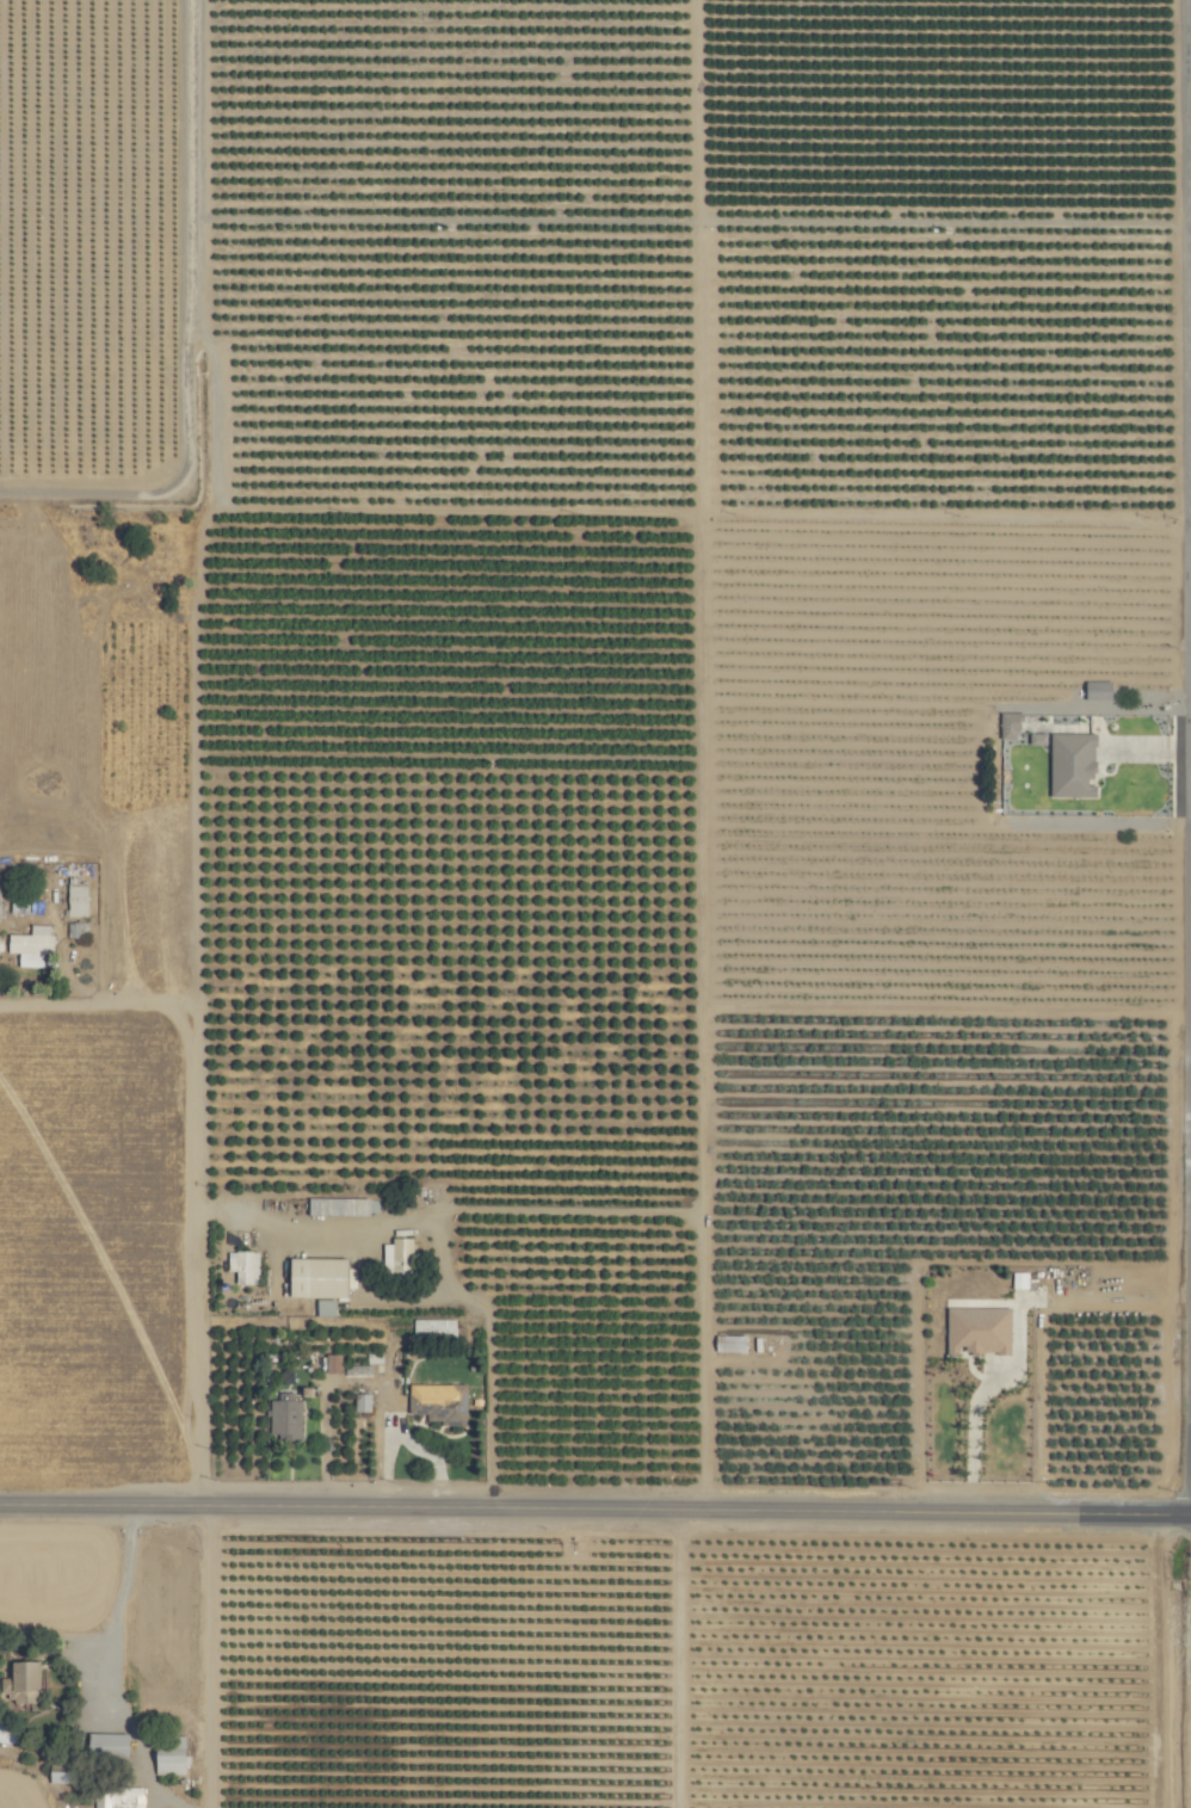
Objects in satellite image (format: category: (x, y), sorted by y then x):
building: (1094, 690)
building: (1007, 723)
road: (1187, 745)
building: (1069, 764)
building: (74, 897)
crop: (595, 903)
building: (76, 928)
building: (27, 945)
road: (195, 1054)
building: (335, 1207)
road: (697, 1223)
building: (395, 1258)
road: (442, 1259)
building: (241, 1266)
building: (314, 1278)
building: (323, 1308)
building: (432, 1328)
building: (975, 1331)
building: (331, 1364)
building: (359, 1402)
building: (438, 1405)
building: (283, 1419)
road: (594, 1510)
road: (204, 1656)
building: (19, 1676)
road: (98, 1684)
building: (6, 1733)
building: (105, 1746)
building: (167, 1759)
building: (119, 1798)

